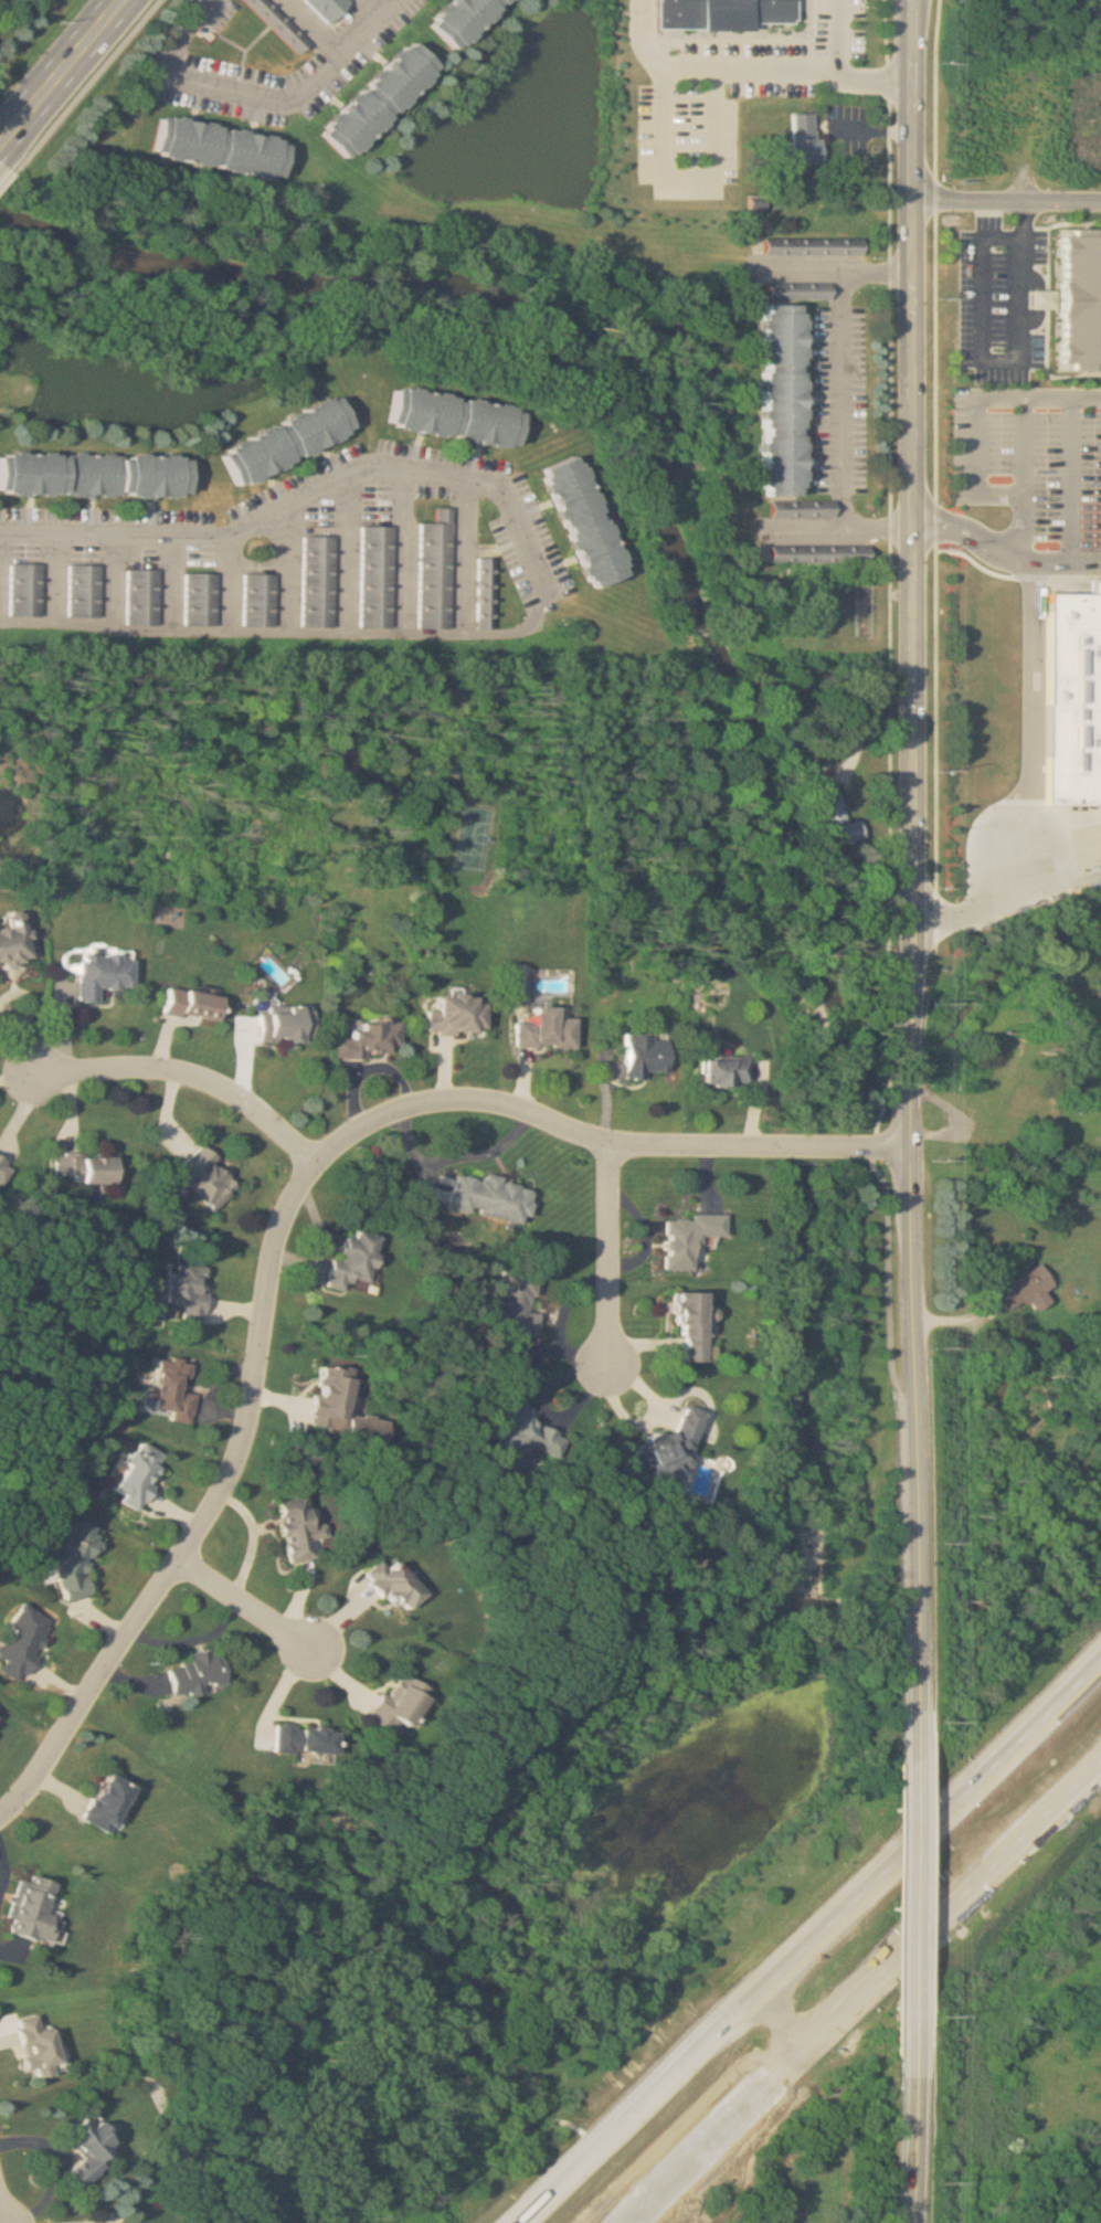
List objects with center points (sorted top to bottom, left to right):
road: (379, 3)
building: (330, 8)
building: (718, 11)
building: (454, 18)
road: (317, 23)
building: (280, 24)
road: (181, 31)
road: (836, 36)
road: (54, 63)
road: (709, 72)
road: (875, 74)
road: (87, 85)
road: (294, 86)
building: (371, 98)
road: (874, 130)
building: (804, 138)
building: (212, 142)
road: (688, 172)
road: (7, 177)
road: (1007, 195)
building: (807, 245)
road: (912, 261)
road: (877, 271)
building: (1035, 298)
building: (1074, 298)
road: (840, 356)
road: (998, 359)
building: (777, 396)
building: (448, 416)
building: (280, 438)
road: (972, 443)
road: (1025, 444)
building: (93, 469)
road: (1071, 479)
river: (673, 484)
road: (310, 497)
building: (797, 508)
building: (579, 520)
road: (875, 522)
road: (805, 523)
road: (971, 534)
parking lot: (301, 548)
road: (406, 550)
road: (465, 553)
building: (818, 554)
road: (347, 555)
road: (1063, 561)
road: (289, 568)
building: (438, 572)
building: (379, 576)
building: (320, 581)
building: (29, 590)
building: (86, 591)
building: (484, 593)
building: (145, 597)
building: (203, 600)
building: (262, 600)
road: (288, 629)
building: (1072, 695)
building: (807, 780)
road: (912, 781)
road: (1026, 784)
building: (834, 822)
building: (1098, 834)
building: (1093, 860)
building: (14, 941)
building: (107, 974)
building: (197, 1004)
building: (460, 1016)
building: (287, 1026)
building: (541, 1029)
road: (23, 1033)
building: (374, 1040)
building: (641, 1055)
road: (190, 1070)
building: (720, 1071)
road: (913, 1077)
building: (6, 1167)
building: (89, 1169)
building: (210, 1177)
building: (490, 1198)
road: (288, 1217)
building: (686, 1238)
road: (614, 1251)
building: (350, 1261)
building: (1021, 1290)
building: (192, 1291)
building: (511, 1303)
building: (689, 1324)
road: (911, 1337)
building: (176, 1390)
building: (337, 1408)
building: (521, 1432)
building: (665, 1447)
building: (141, 1475)
building: (295, 1529)
road: (258, 1541)
building: (81, 1560)
building: (393, 1585)
road: (248, 1607)
road: (909, 1617)
road: (195, 1638)
building: (28, 1643)
building: (202, 1673)
river: (603, 1682)
building: (391, 1705)
road: (1036, 1721)
building: (1, 1722)
road: (908, 1736)
building: (305, 1740)
building: (104, 1801)
road: (1006, 1855)
road: (10, 1866)
building: (29, 1910)
road: (908, 1913)
road: (792, 1952)
road: (8, 1954)
road: (782, 2016)
building: (31, 2045)
road: (779, 2073)
road: (909, 2124)
building: (83, 2151)
road: (54, 2164)
road: (570, 2164)
road: (6, 2199)
road: (634, 2212)
road: (517, 2215)

